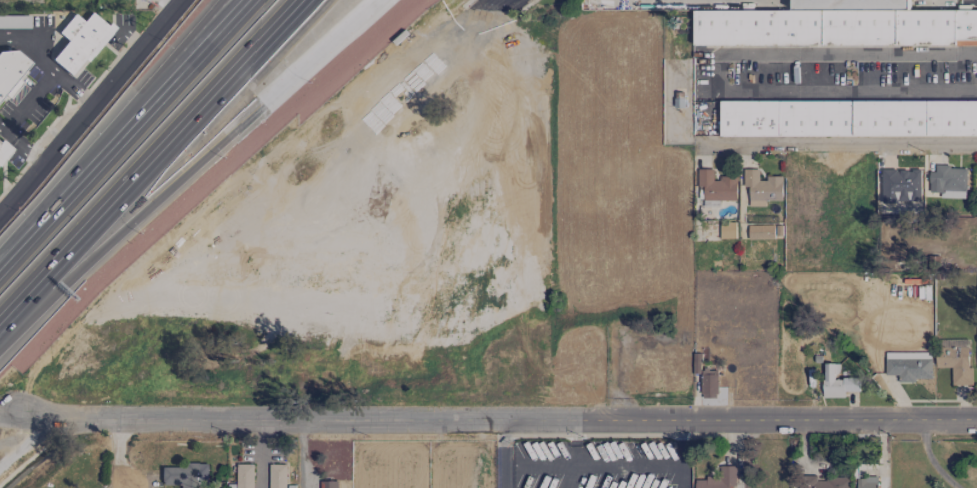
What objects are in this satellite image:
road: (499, 5)
building: (852, 5)
parking lot: (933, 5)
road: (227, 12)
road: (130, 36)
building: (80, 42)
road: (49, 64)
building: (11, 72)
road: (718, 72)
road: (30, 102)
road: (91, 105)
building: (848, 118)
road: (120, 129)
road: (838, 144)
road: (20, 146)
building: (4, 153)
road: (151, 159)
road: (187, 169)
building: (948, 182)
building: (900, 185)
building: (716, 187)
building: (762, 188)
building: (727, 231)
building: (761, 231)
building: (908, 365)
building: (837, 382)
building: (709, 383)
road: (496, 421)
road: (502, 455)
road: (683, 455)
road: (932, 459)
building: (186, 476)
building: (245, 476)
building: (278, 476)
building: (719, 479)
building: (823, 482)
building: (867, 482)
building: (329, 484)

